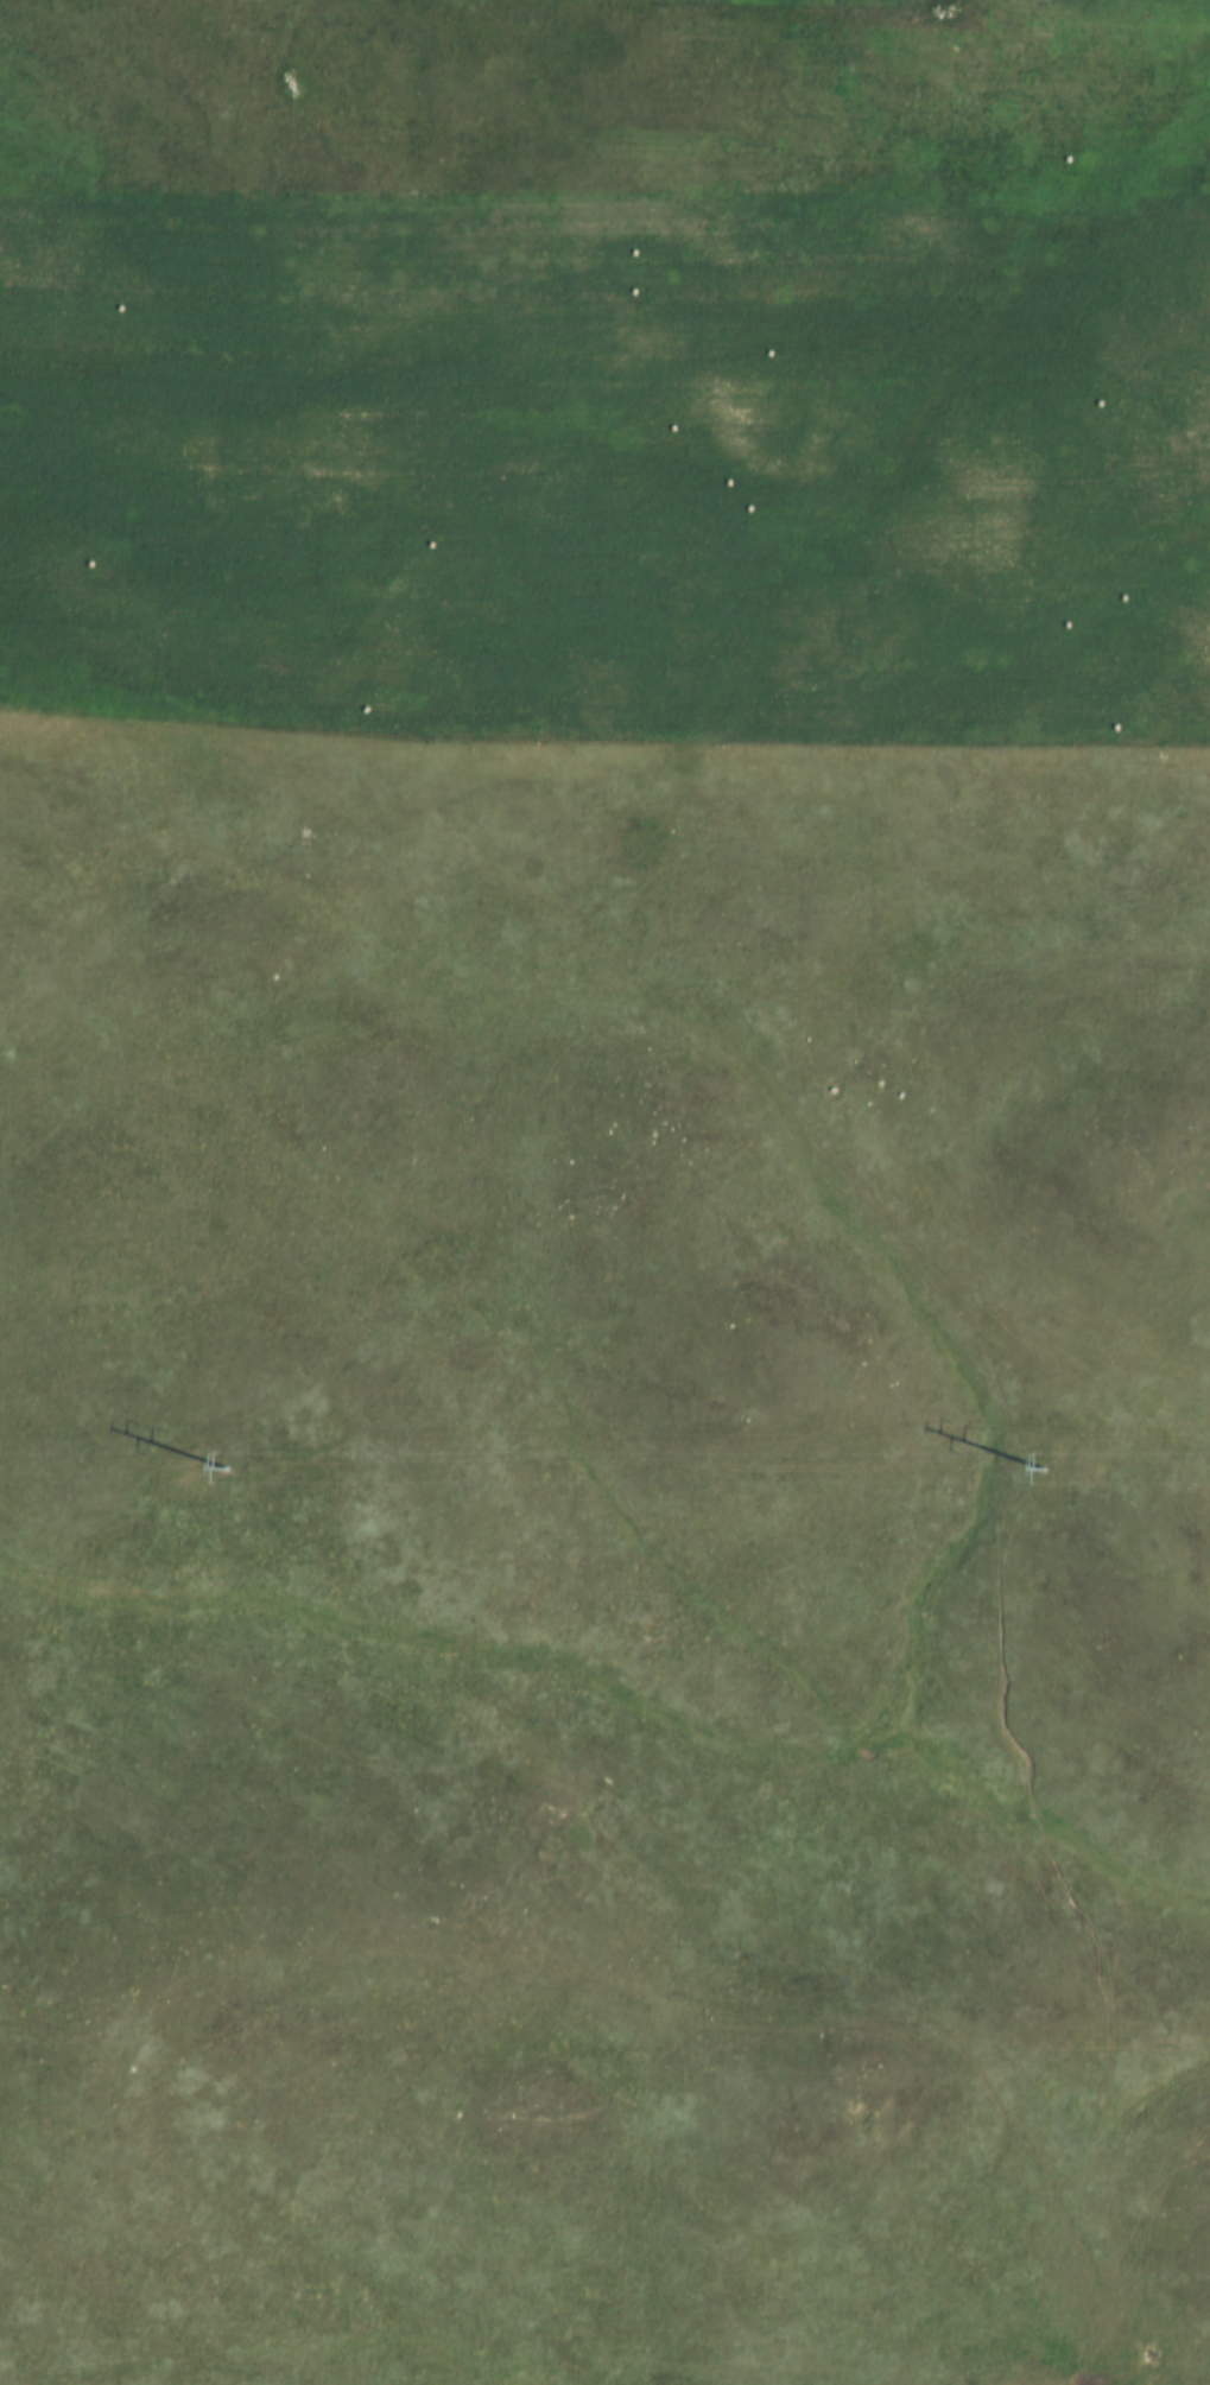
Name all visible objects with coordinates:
power tower: (226, 1458)
power tower: (1041, 1461)

